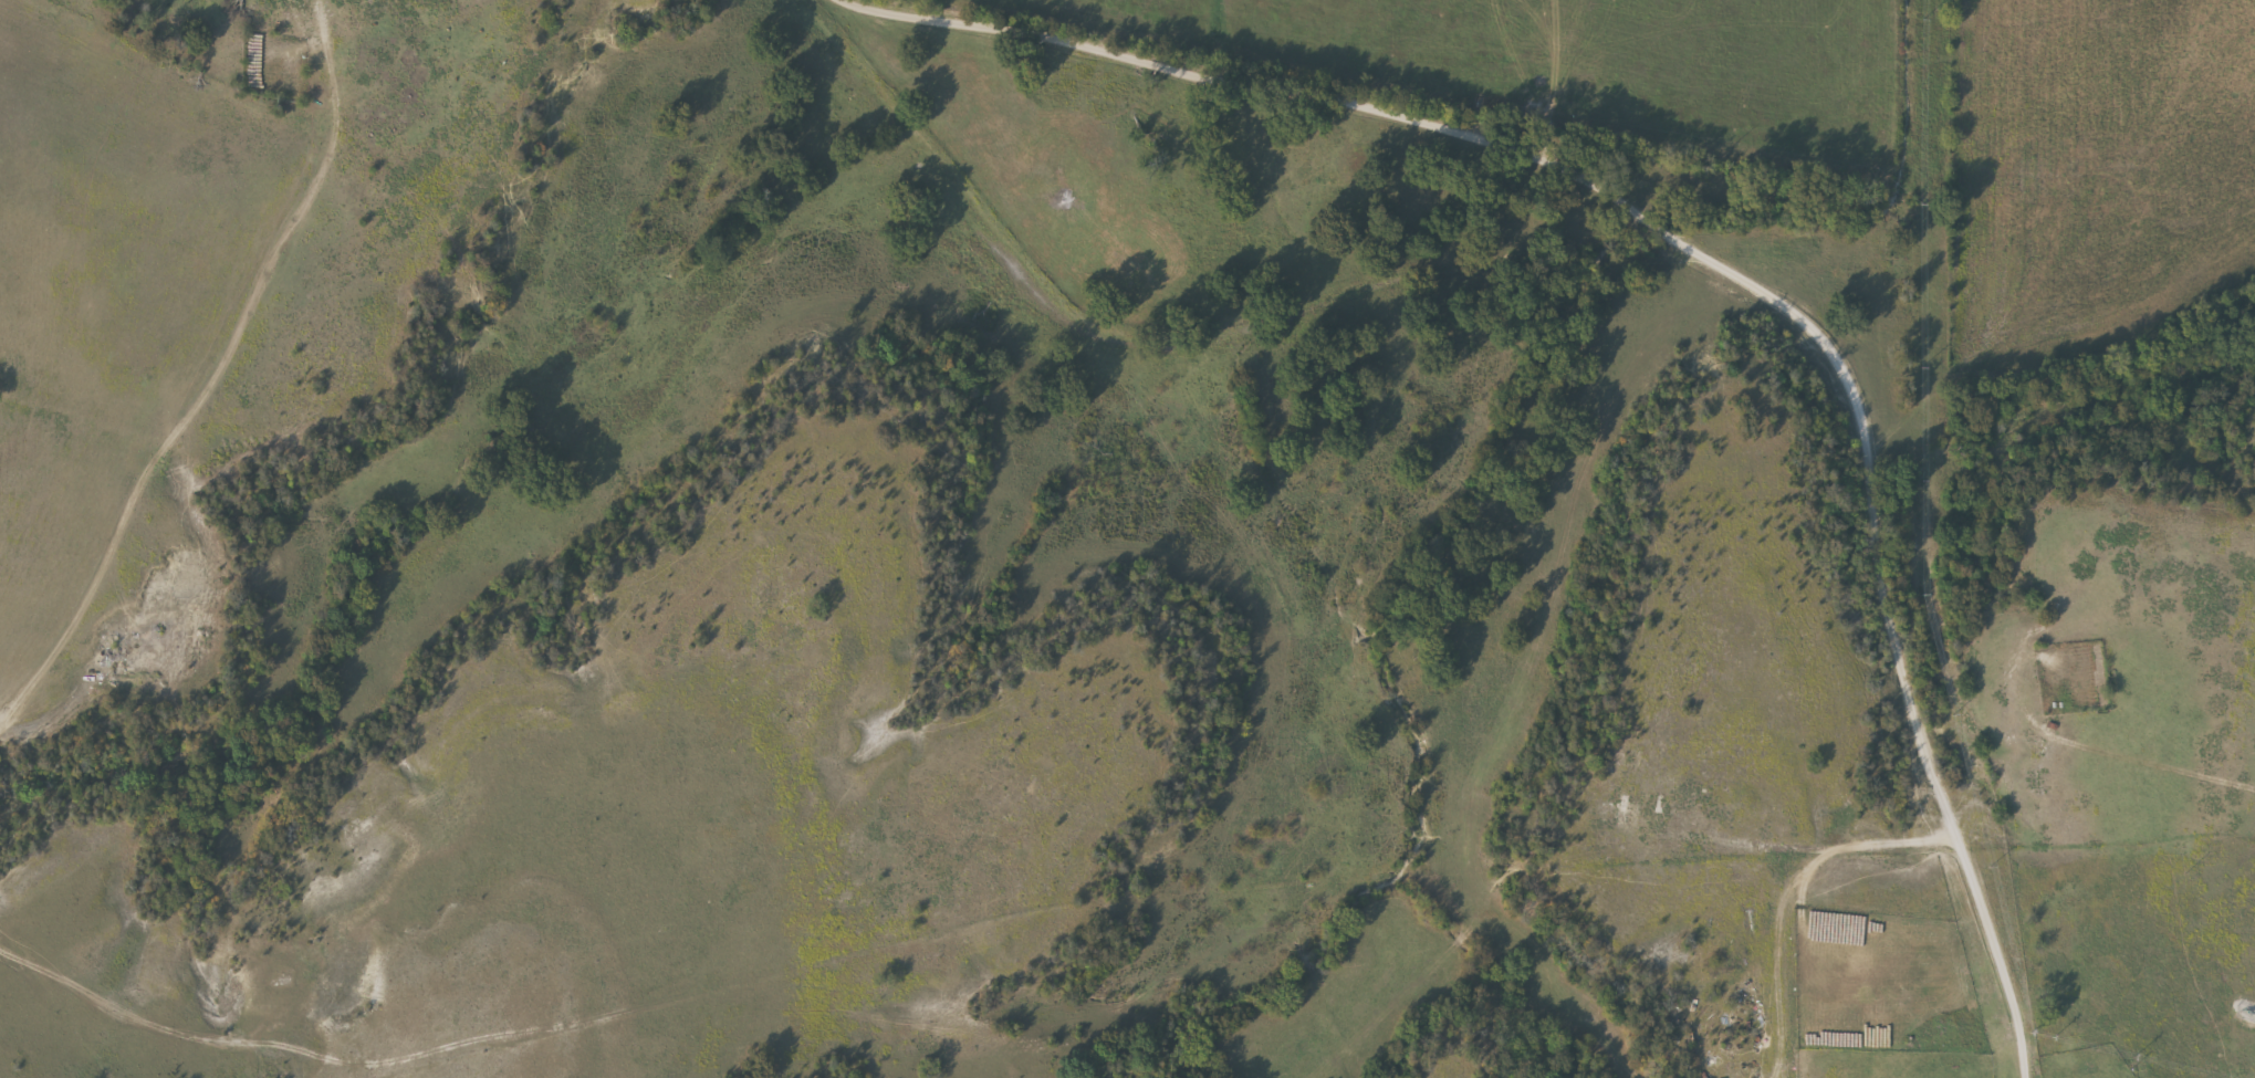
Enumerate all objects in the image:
road: (1712, 273)
road: (217, 386)
road: (1788, 883)
road: (244, 1040)

